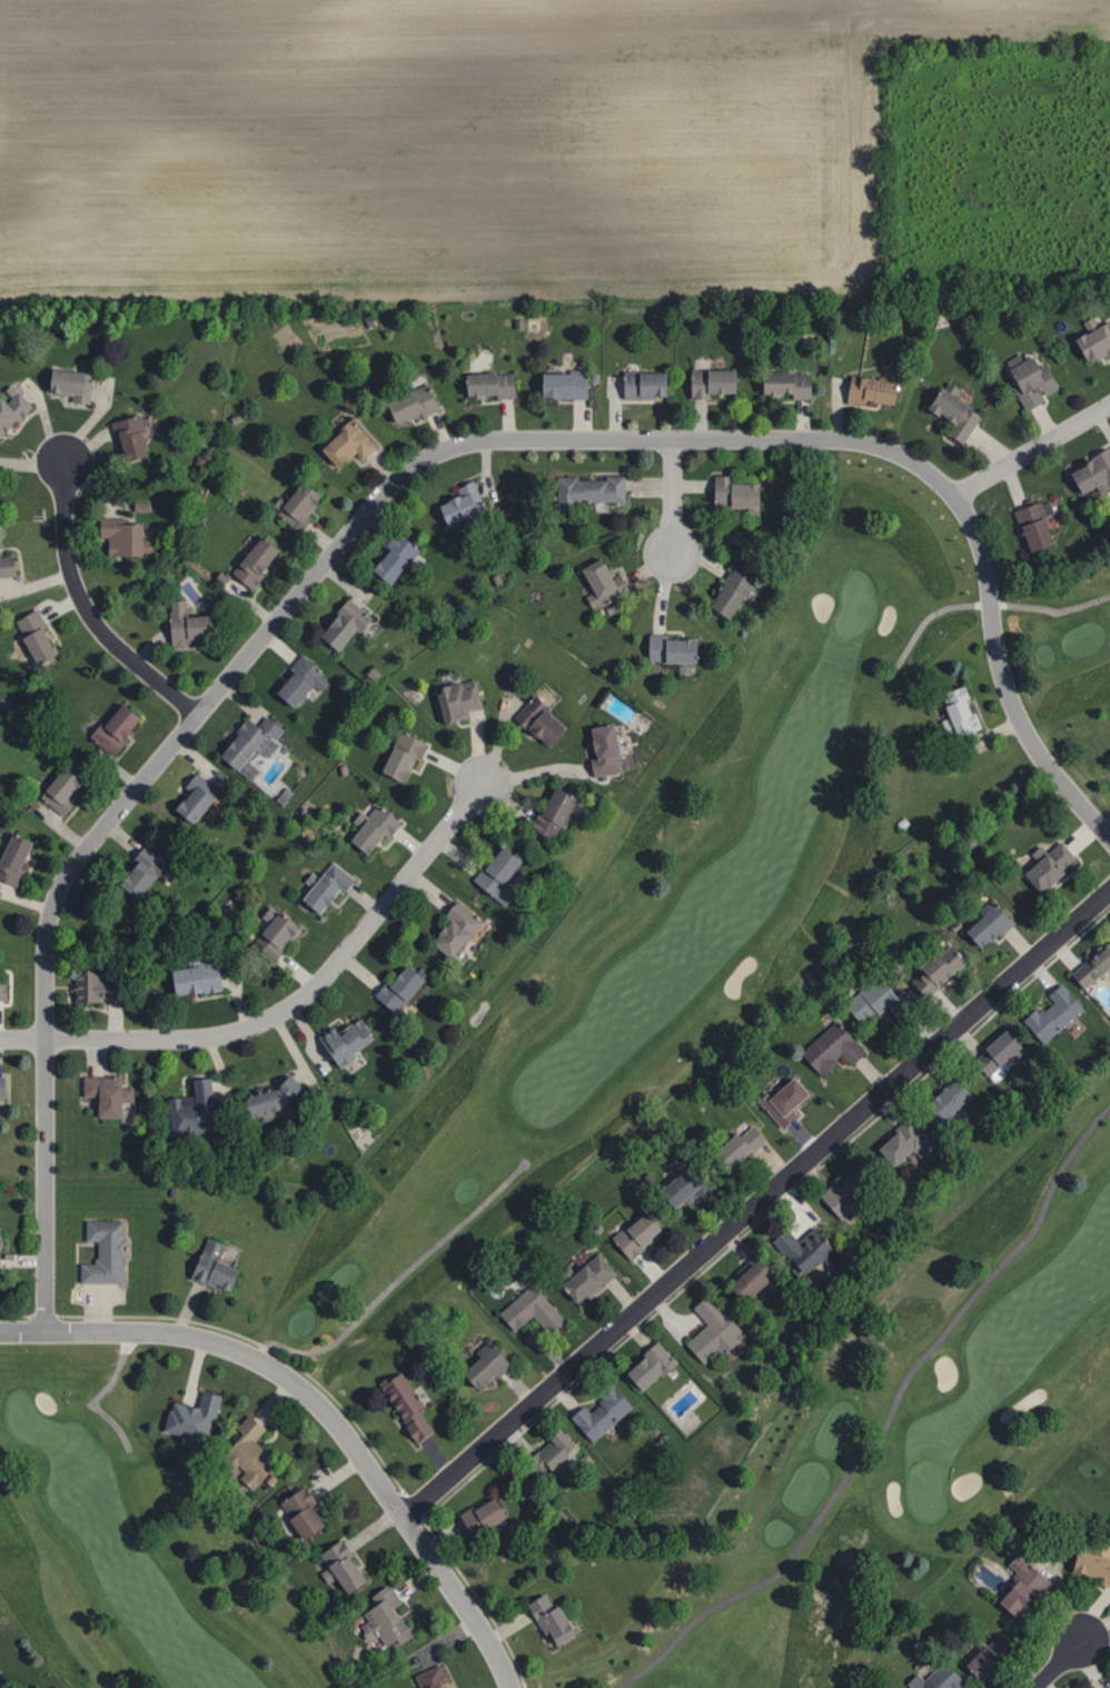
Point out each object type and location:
building: (1091, 338)
building: (1029, 376)
building: (707, 380)
building: (66, 381)
building: (484, 383)
building: (557, 383)
building: (638, 383)
building: (782, 384)
building: (868, 388)
building: (406, 403)
building: (10, 407)
building: (951, 413)
building: (125, 434)
building: (341, 441)
road: (1030, 449)
building: (1090, 473)
road: (394, 481)
building: (587, 488)
building: (739, 491)
road: (672, 494)
building: (456, 500)
building: (293, 503)
building: (1030, 524)
building: (116, 534)
building: (388, 557)
building: (248, 560)
building: (6, 565)
building: (599, 578)
building: (733, 593)
road: (987, 605)
road: (86, 609)
building: (180, 622)
building: (339, 622)
building: (30, 633)
building: (674, 648)
building: (295, 679)
building: (453, 698)
building: (963, 713)
building: (109, 726)
building: (545, 726)
building: (246, 739)
building: (607, 752)
building: (398, 753)
building: (266, 768)
building: (54, 787)
building: (190, 796)
building: (556, 814)
building: (366, 827)
building: (9, 857)
building: (1053, 865)
building: (136, 868)
building: (499, 875)
building: (320, 884)
building: (991, 925)
building: (270, 932)
building: (458, 932)
building: (1093, 969)
building: (940, 971)
building: (188, 977)
building: (82, 985)
building: (402, 989)
building: (0, 990)
building: (875, 1002)
road: (290, 1005)
building: (1053, 1014)
building: (348, 1041)
building: (831, 1047)
building: (1001, 1056)
building: (109, 1094)
building: (275, 1098)
building: (949, 1100)
building: (787, 1102)
building: (195, 1111)
building: (904, 1142)
building: (740, 1146)
building: (684, 1188)
building: (851, 1193)
road: (756, 1202)
park: (644, 1210)
building: (638, 1233)
road: (1027, 1239)
building: (811, 1250)
building: (107, 1254)
building: (216, 1268)
building: (592, 1278)
road: (399, 1279)
building: (755, 1280)
building: (534, 1310)
building: (713, 1330)
building: (653, 1366)
building: (488, 1367)
road: (96, 1399)
road: (320, 1406)
building: (410, 1406)
building: (603, 1411)
building: (191, 1420)
building: (556, 1456)
building: (251, 1458)
building: (305, 1513)
building: (485, 1517)
road: (794, 1548)
building: (1089, 1566)
building: (346, 1567)
building: (1017, 1586)
building: (549, 1616)
building: (388, 1621)
building: (984, 1656)
road: (1058, 1664)
building: (432, 1678)
building: (936, 1678)
building: (1109, 1687)

